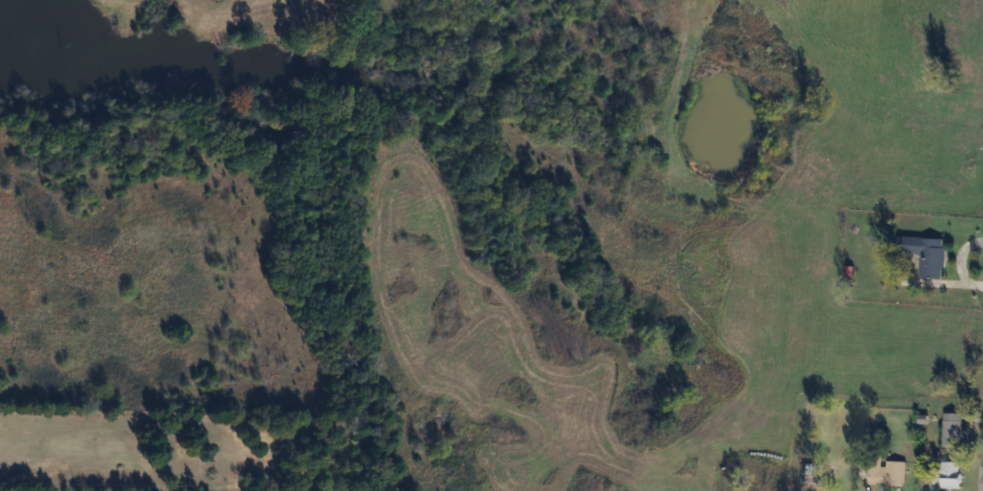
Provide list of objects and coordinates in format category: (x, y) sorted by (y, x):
building: (929, 255)
building: (953, 430)
building: (888, 473)
building: (951, 474)

